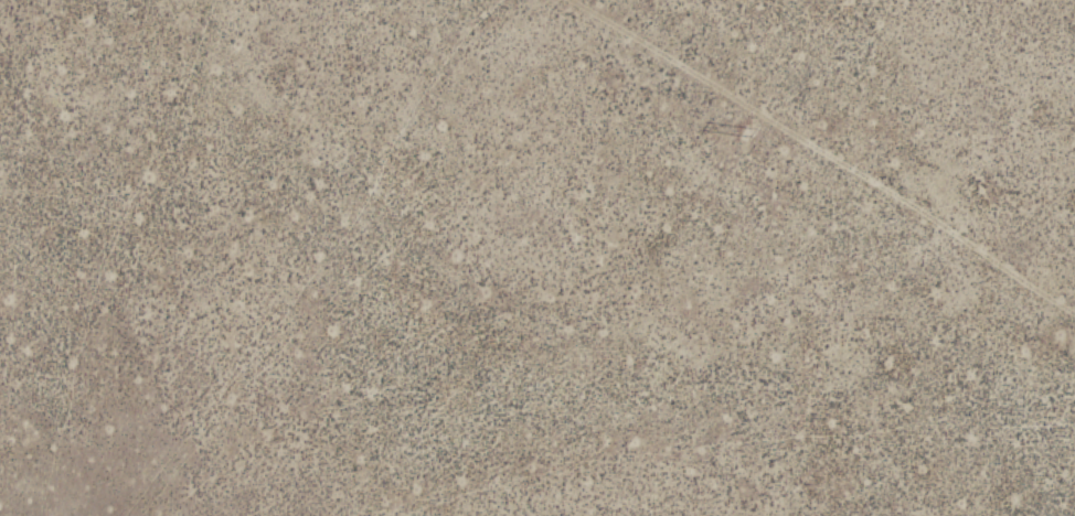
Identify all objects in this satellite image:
power tower: (748, 130)

